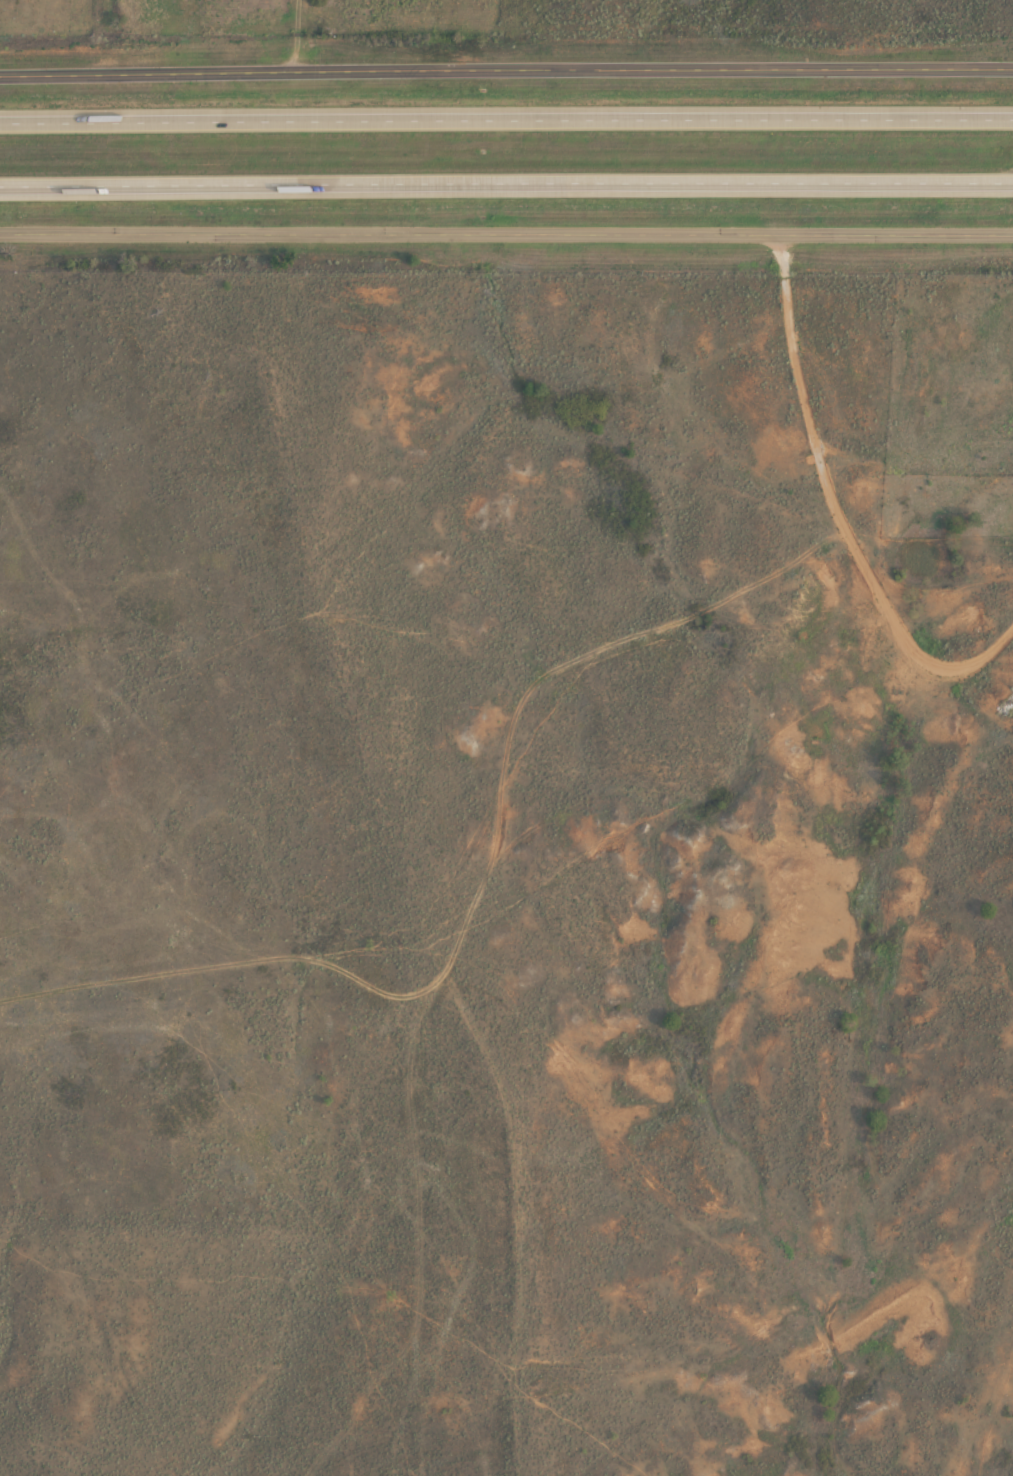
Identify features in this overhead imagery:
road: (292, 37)
road: (506, 72)
road: (506, 116)
road: (506, 182)
road: (506, 236)

